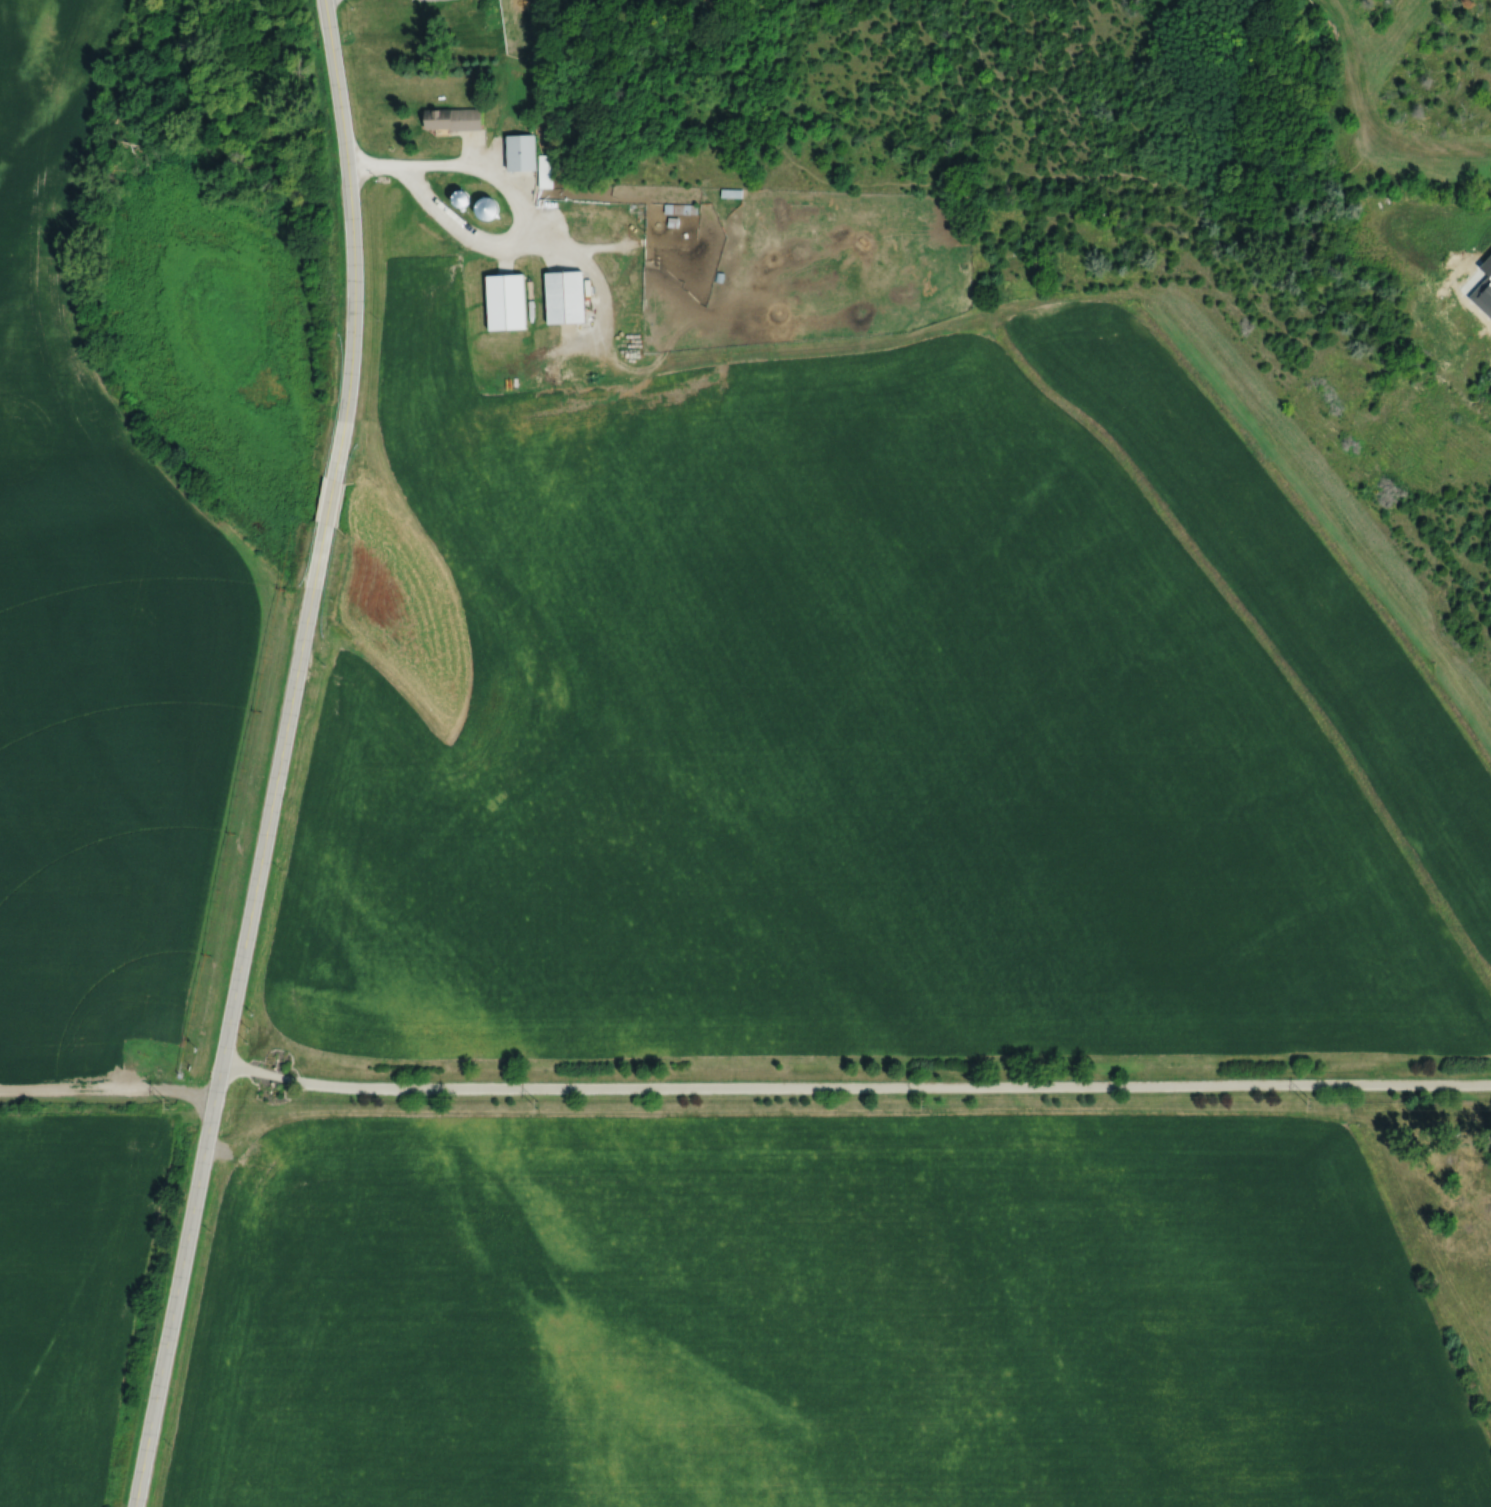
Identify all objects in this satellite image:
building: (449, 120)
building: (518, 154)
building: (544, 171)
building: (456, 200)
road: (517, 204)
building: (482, 210)
building: (793, 213)
building: (561, 298)
building: (502, 303)
road: (280, 756)
road: (854, 1085)
power tower: (1308, 1100)
power tower: (922, 1102)
power tower: (167, 1104)
power tower: (536, 1104)

